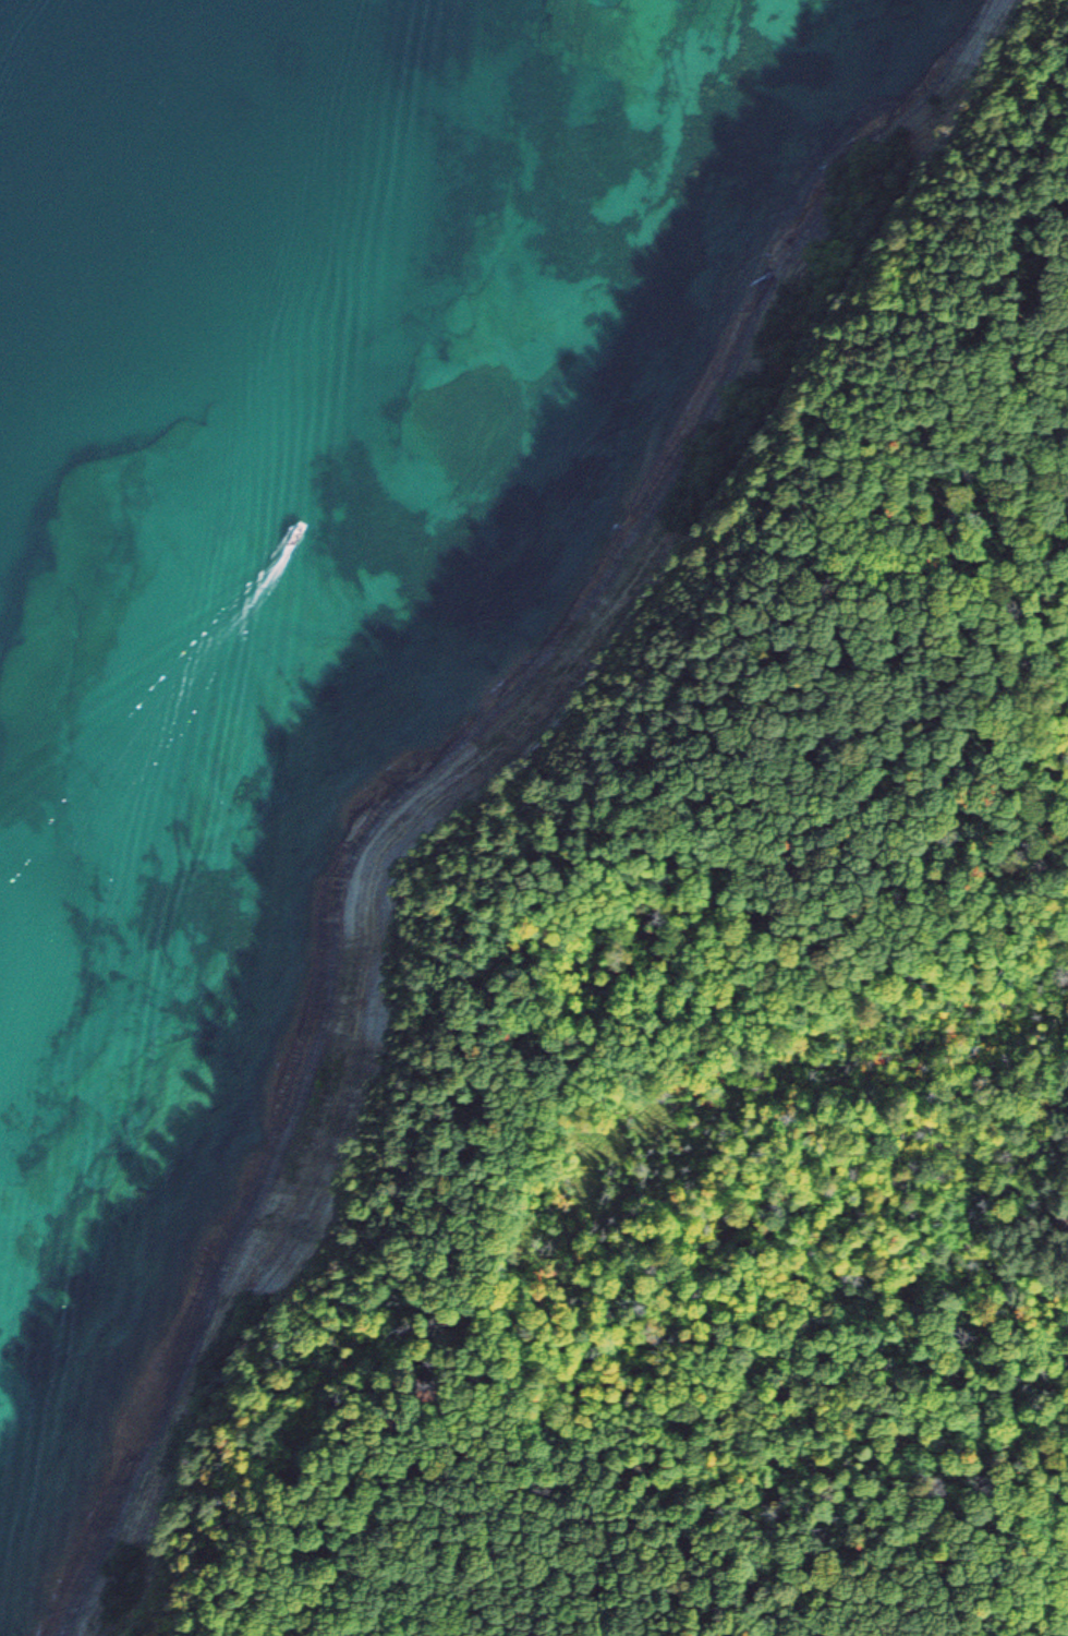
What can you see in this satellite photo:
road: (514, 882)
road: (337, 1623)

